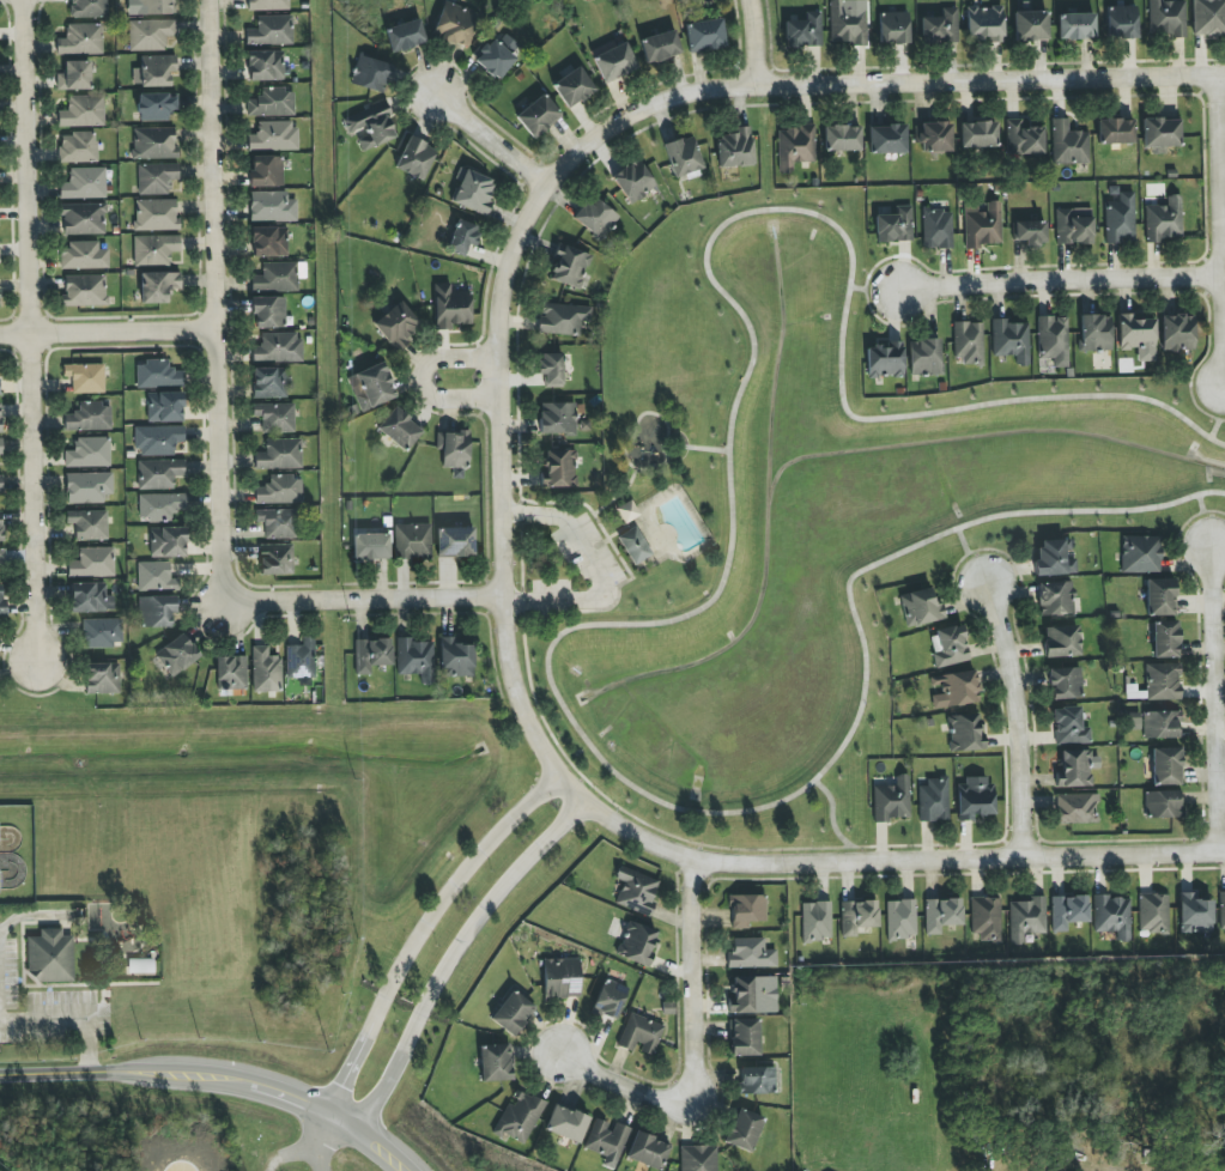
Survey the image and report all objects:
building: (268, 5)
building: (156, 7)
building: (89, 8)
building: (1208, 17)
building: (1166, 18)
building: (848, 22)
building: (1121, 22)
building: (984, 23)
building: (455, 24)
building: (1030, 26)
building: (1075, 26)
building: (893, 28)
building: (940, 28)
building: (271, 31)
building: (803, 31)
building: (150, 34)
building: (704, 35)
building: (405, 36)
building: (81, 40)
road: (753, 42)
building: (660, 47)
building: (496, 55)
building: (614, 62)
building: (265, 66)
building: (157, 69)
building: (370, 74)
building: (74, 75)
road: (871, 83)
building: (574, 87)
building: (272, 103)
building: (156, 107)
building: (83, 111)
building: (538, 116)
building: (370, 127)
building: (1115, 132)
building: (1160, 133)
building: (978, 134)
building: (274, 136)
road: (487, 136)
building: (842, 138)
building: (935, 138)
building: (887, 139)
building: (1023, 139)
building: (154, 144)
building: (1068, 144)
building: (795, 146)
building: (78, 147)
building: (735, 148)
building: (683, 156)
building: (414, 158)
building: (266, 171)
building: (156, 178)
building: (633, 181)
building: (84, 183)
building: (473, 192)
building: (272, 207)
building: (156, 214)
building: (595, 218)
building: (83, 219)
building: (1120, 219)
building: (1164, 220)
road: (1219, 222)
building: (895, 225)
building: (982, 225)
building: (1073, 226)
building: (936, 229)
building: (1030, 232)
building: (462, 237)
building: (269, 242)
building: (154, 249)
building: (83, 256)
building: (570, 267)
building: (278, 277)
road: (1059, 283)
building: (158, 286)
road: (874, 289)
building: (84, 290)
road: (218, 298)
building: (450, 307)
building: (267, 313)
building: (563, 318)
building: (396, 326)
road: (109, 329)
road: (37, 332)
building: (1096, 333)
building: (1177, 333)
building: (1138, 336)
building: (1009, 340)
building: (1053, 340)
building: (968, 342)
building: (278, 347)
building: (924, 357)
building: (885, 359)
building: (551, 368)
building: (157, 375)
building: (85, 377)
road: (422, 378)
building: (269, 382)
building: (371, 387)
building: (0, 393)
building: (165, 407)
building: (89, 417)
building: (275, 417)
road: (1219, 417)
building: (557, 418)
building: (0, 419)
building: (399, 429)
road: (672, 437)
building: (158, 439)
road: (630, 442)
building: (1, 447)
building: (453, 449)
road: (704, 449)
building: (89, 453)
building: (279, 455)
park: (645, 462)
building: (559, 468)
building: (159, 474)
building: (0, 484)
building: (87, 487)
building: (280, 491)
road: (607, 502)
building: (160, 505)
building: (627, 511)
building: (278, 523)
road: (1205, 523)
building: (89, 524)
building: (1, 526)
building: (412, 541)
building: (168, 542)
building: (455, 542)
building: (370, 546)
building: (635, 546)
building: (1140, 554)
road: (969, 557)
building: (1, 558)
building: (1055, 558)
building: (275, 559)
building: (92, 563)
road: (599, 575)
building: (154, 576)
building: (90, 597)
building: (1160, 597)
building: (1055, 599)
building: (1, 601)
road: (364, 601)
building: (920, 607)
building: (157, 612)
road: (696, 612)
road: (546, 620)
building: (102, 632)
building: (1165, 639)
building: (1061, 641)
building: (948, 647)
building: (177, 655)
building: (371, 655)
building: (416, 659)
building: (455, 659)
building: (301, 660)
building: (265, 671)
building: (231, 673)
building: (102, 678)
building: (1163, 681)
building: (1065, 682)
building: (956, 690)
road: (1215, 702)
road: (1015, 718)
building: (1160, 724)
building: (1069, 727)
building: (965, 732)
building: (1166, 766)
building: (1074, 769)
building: (975, 799)
building: (891, 800)
building: (934, 800)
road: (587, 802)
building: (1163, 803)
building: (1077, 808)
road: (833, 820)
building: (636, 891)
building: (747, 910)
building: (1221, 910)
building: (1068, 911)
building: (1153, 914)
road: (26, 915)
building: (941, 915)
building: (1195, 915)
building: (857, 916)
building: (1112, 916)
building: (900, 918)
building: (986, 918)
building: (1026, 918)
building: (815, 921)
building: (636, 942)
building: (751, 953)
building: (50, 957)
building: (140, 965)
building: (562, 978)
building: (753, 995)
building: (610, 999)
building: (513, 1013)
road: (67, 1020)
building: (641, 1035)
building: (744, 1037)
road: (697, 1055)
building: (495, 1062)
road: (177, 1072)
building: (757, 1080)
road: (347, 1109)
road: (345, 1117)
building: (518, 1117)
building: (566, 1123)
building: (744, 1130)
building: (607, 1141)
road: (323, 1143)
road: (376, 1143)
building: (648, 1151)
road: (291, 1152)
building: (698, 1158)

